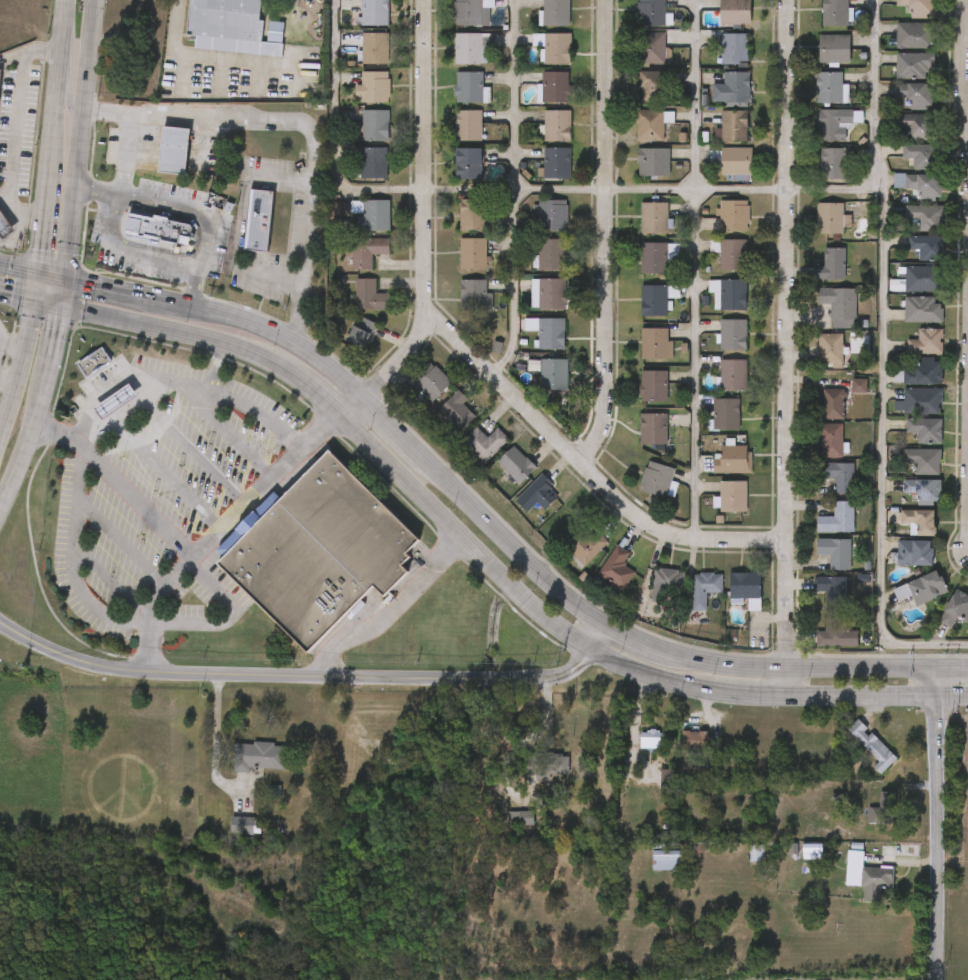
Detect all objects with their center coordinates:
building: (355, 3)
building: (451, 3)
building: (920, 8)
building: (734, 12)
building: (374, 13)
building: (473, 13)
building: (557, 13)
building: (652, 13)
building: (835, 13)
building: (233, 27)
building: (356, 29)
road: (966, 32)
building: (914, 36)
building: (471, 48)
building: (652, 48)
building: (375, 49)
building: (557, 49)
building: (735, 49)
building: (834, 49)
road: (67, 51)
road: (206, 55)
building: (915, 66)
building: (356, 68)
building: (444, 68)
building: (0, 73)
road: (70, 73)
road: (965, 73)
building: (653, 87)
building: (376, 88)
building: (469, 88)
building: (555, 88)
building: (829, 88)
building: (732, 89)
building: (913, 95)
building: (356, 106)
building: (441, 106)
road: (967, 113)
road: (17, 115)
road: (306, 123)
building: (836, 124)
building: (650, 125)
building: (375, 126)
building: (467, 126)
building: (557, 126)
building: (916, 126)
building: (734, 127)
road: (332, 134)
building: (357, 144)
road: (55, 149)
building: (175, 151)
road: (124, 155)
building: (919, 155)
building: (735, 162)
building: (654, 163)
building: (373, 164)
building: (468, 164)
building: (557, 164)
building: (833, 164)
building: (157, 169)
building: (355, 182)
road: (654, 183)
building: (923, 186)
road: (513, 190)
road: (98, 191)
road: (5, 192)
road: (27, 212)
road: (1, 214)
building: (376, 215)
building: (473, 215)
building: (552, 215)
building: (734, 215)
building: (926, 217)
building: (654, 218)
road: (242, 219)
building: (258, 219)
building: (830, 219)
road: (424, 223)
building: (5, 227)
gas station: (5, 227)
building: (155, 227)
building: (354, 234)
road: (606, 234)
building: (242, 240)
building: (924, 247)
building: (141, 249)
building: (367, 252)
building: (473, 254)
building: (551, 255)
building: (733, 256)
building: (654, 258)
road: (70, 261)
road: (21, 265)
building: (833, 265)
road: (695, 269)
traffic signals: (43, 270)
road: (198, 270)
building: (349, 271)
road: (56, 273)
traffic signals: (69, 276)
building: (923, 279)
road: (196, 289)
road: (19, 294)
building: (547, 294)
building: (729, 294)
building: (474, 296)
building: (370, 297)
traffic signals: (39, 299)
building: (656, 300)
building: (839, 302)
traffic signals: (64, 304)
building: (923, 310)
building: (351, 315)
building: (360, 334)
building: (551, 334)
building: (733, 335)
building: (925, 342)
road: (14, 343)
building: (655, 344)
road: (787, 348)
building: (830, 349)
building: (344, 353)
road: (881, 359)
building: (93, 362)
road: (217, 367)
road: (21, 372)
building: (923, 372)
building: (551, 373)
road: (125, 374)
building: (732, 375)
road: (9, 380)
building: (430, 381)
building: (76, 382)
building: (858, 383)
building: (653, 386)
building: (921, 401)
building: (114, 403)
gas station: (114, 403)
building: (832, 404)
building: (456, 411)
road: (126, 414)
road: (258, 414)
building: (725, 414)
building: (98, 421)
building: (653, 429)
road: (228, 430)
building: (925, 430)
road: (319, 431)
road: (1, 435)
road: (63, 437)
building: (830, 440)
building: (485, 443)
road: (195, 452)
building: (731, 460)
building: (922, 460)
building: (515, 464)
road: (584, 465)
road: (168, 475)
building: (838, 476)
building: (657, 479)
building: (924, 490)
building: (538, 494)
building: (732, 496)
road: (245, 503)
building: (838, 519)
building: (919, 521)
road: (496, 531)
road: (122, 541)
building: (588, 546)
building: (319, 549)
building: (835, 553)
building: (915, 553)
road: (483, 555)
road: (73, 562)
building: (617, 568)
road: (111, 581)
building: (667, 584)
building: (704, 588)
building: (746, 588)
building: (922, 588)
building: (832, 591)
road: (225, 593)
building: (957, 608)
road: (391, 611)
building: (837, 633)
road: (597, 636)
road: (148, 649)
traffic signals: (937, 667)
road: (298, 681)
traffic signals: (938, 697)
building: (653, 741)
building: (697, 741)
road: (217, 743)
building: (873, 746)
building: (257, 754)
building: (556, 761)
building: (240, 775)
building: (521, 813)
road: (937, 823)
building: (229, 843)
building: (812, 853)
building: (668, 861)
building: (868, 876)

